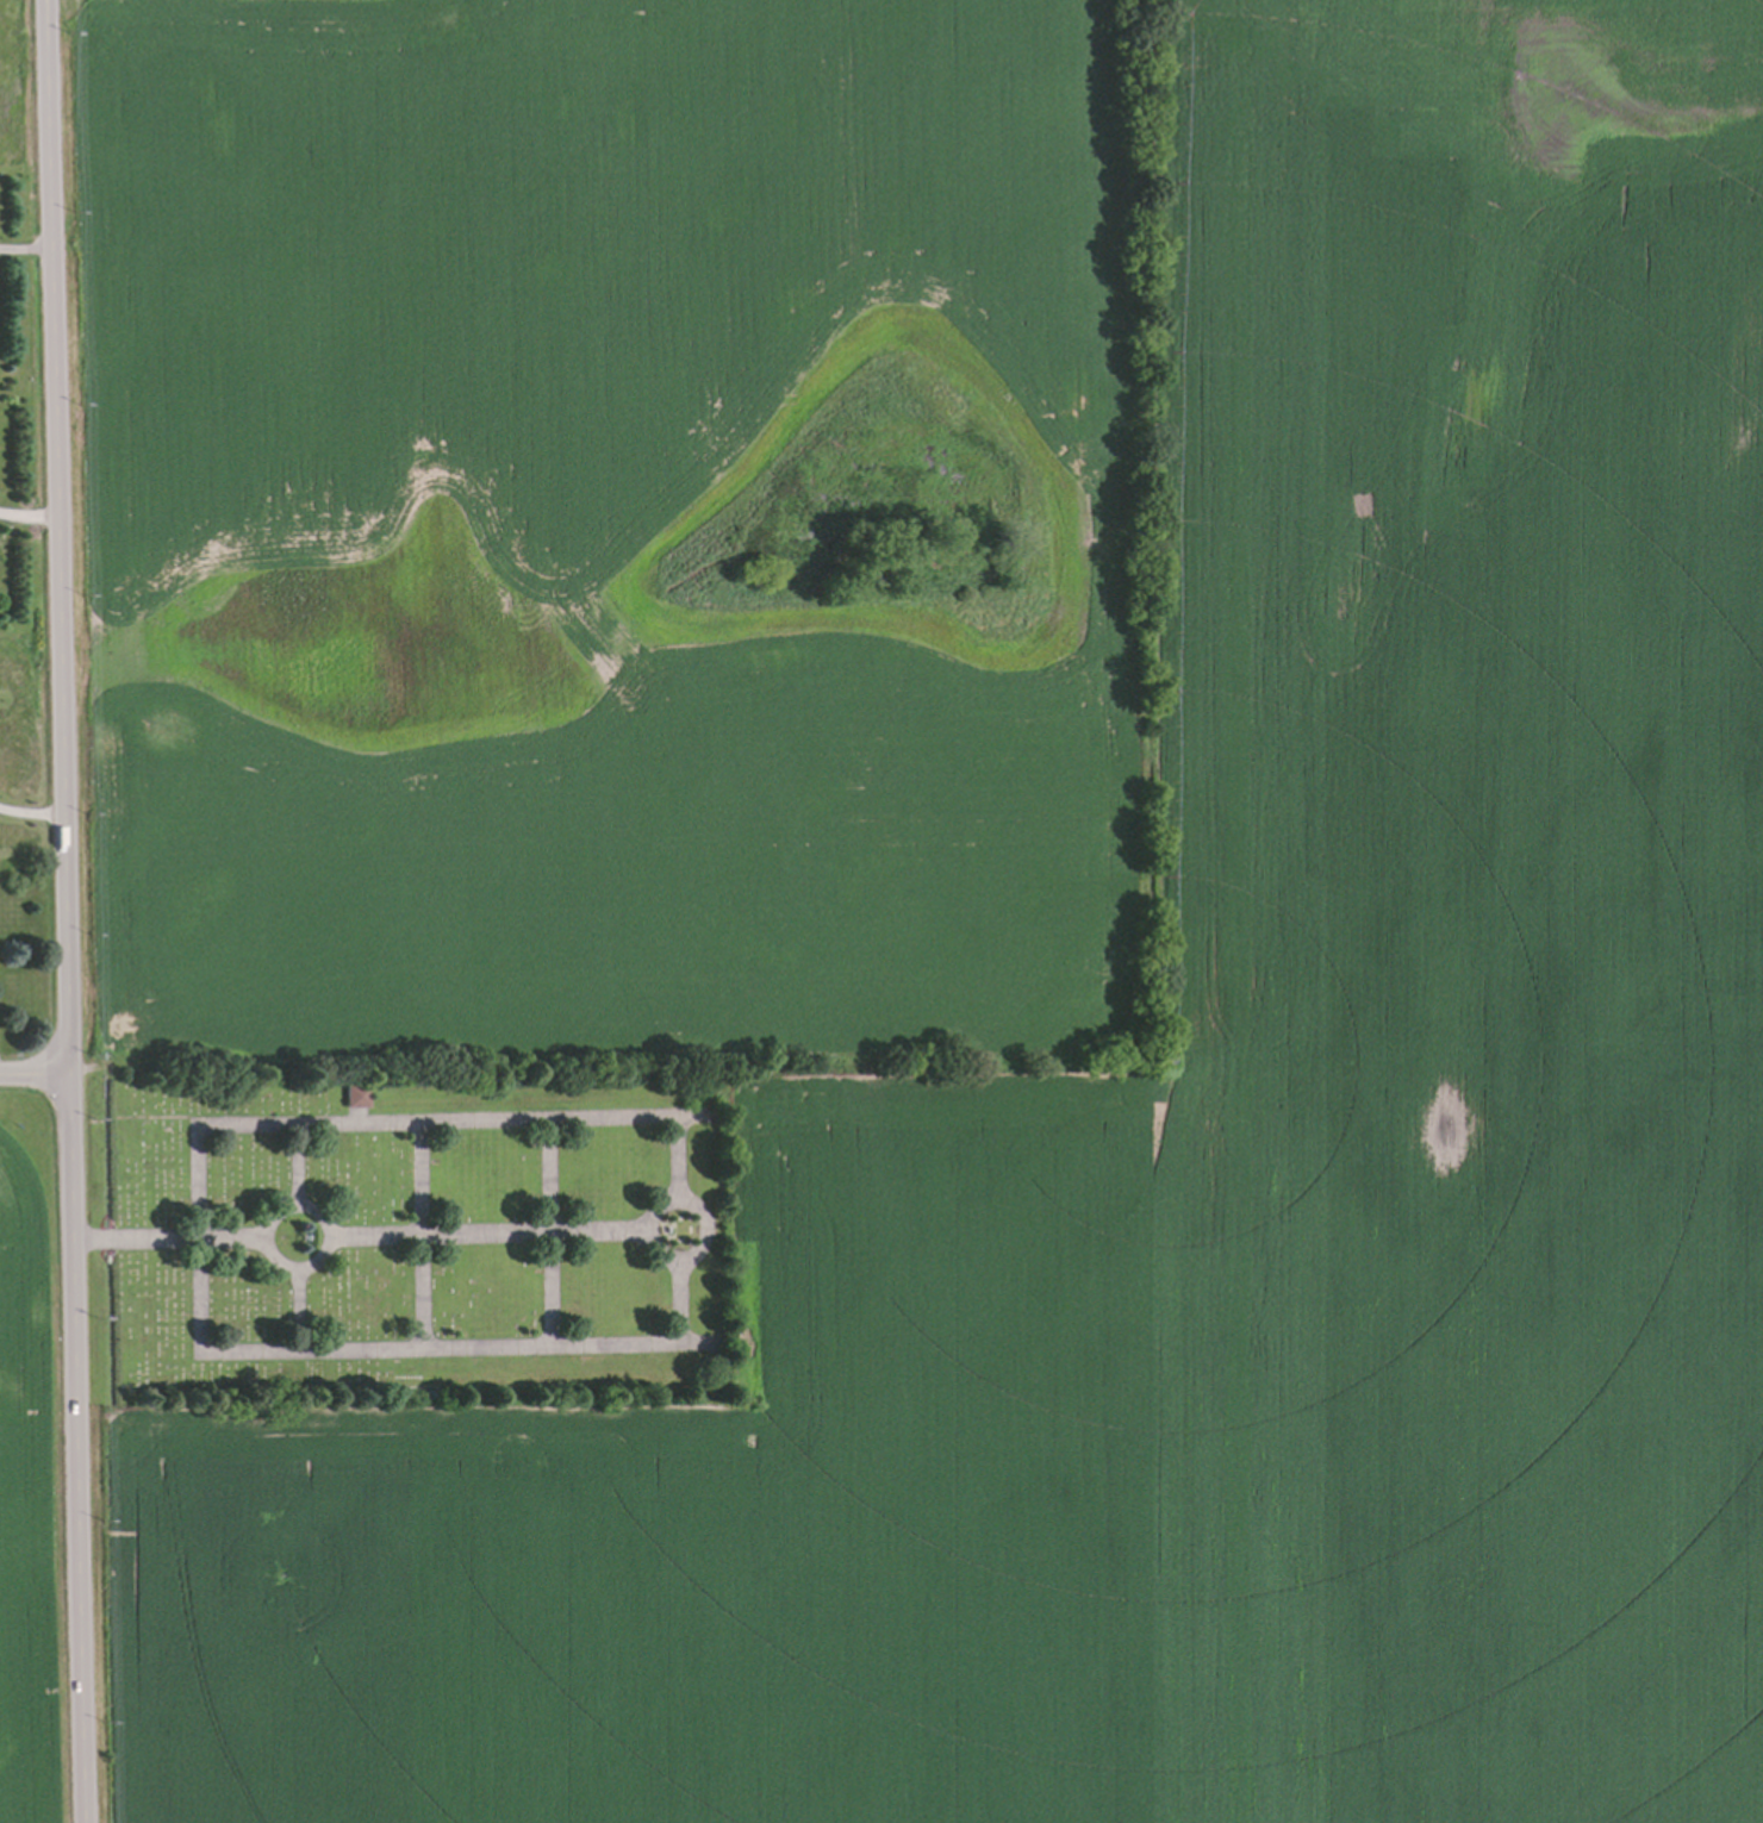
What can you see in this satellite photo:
road: (26, 246)
road: (27, 517)
road: (30, 811)
road: (61, 911)
road: (31, 1074)
building: (353, 1093)
park: (413, 1232)

